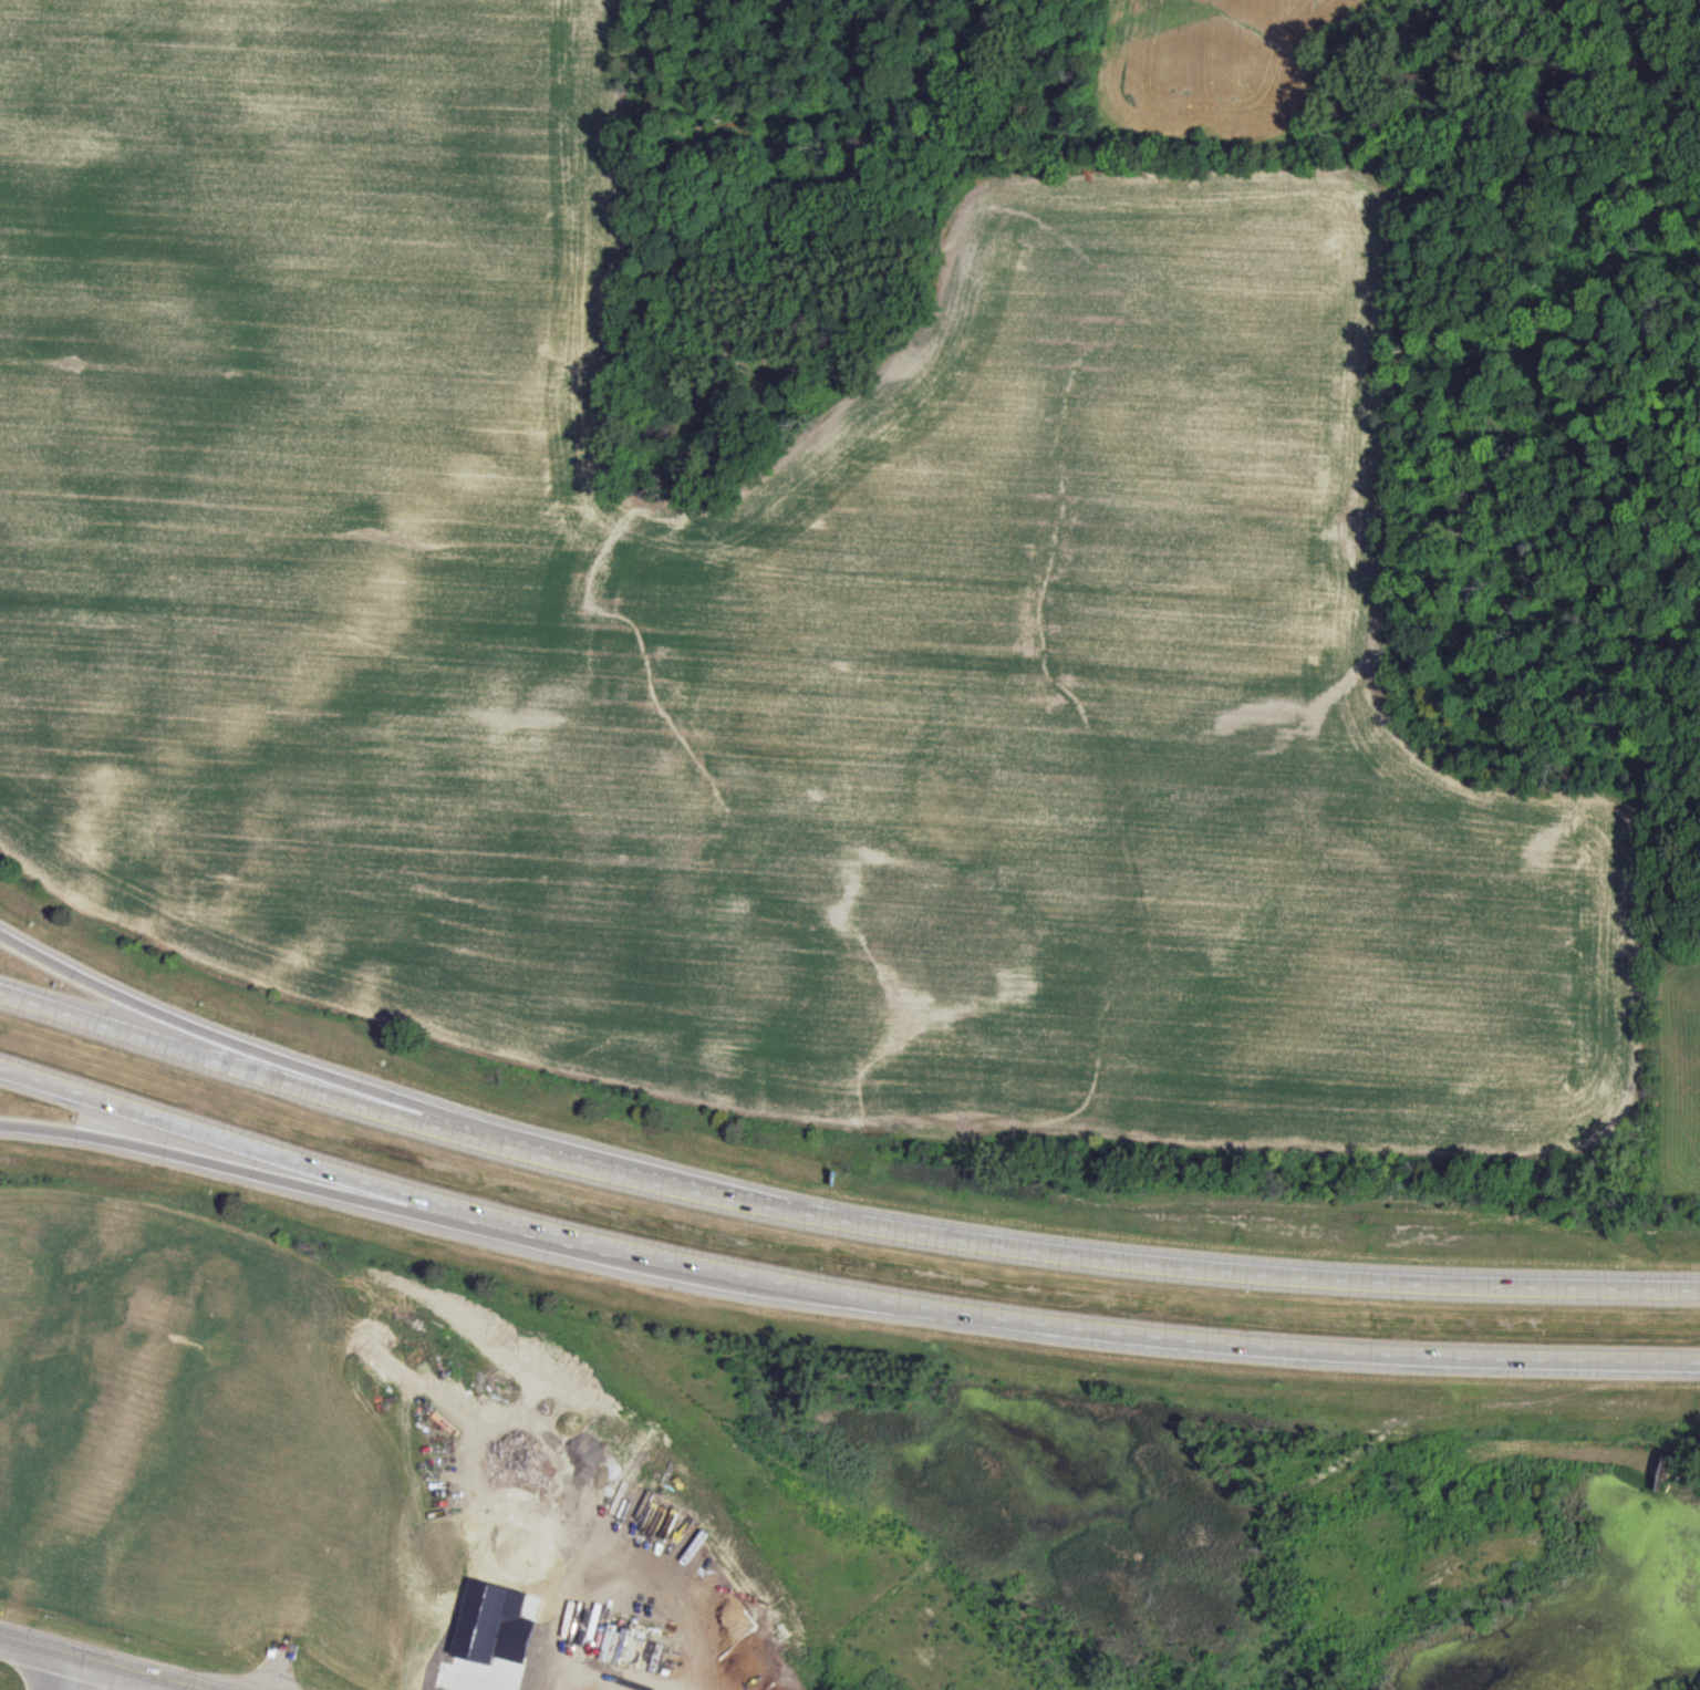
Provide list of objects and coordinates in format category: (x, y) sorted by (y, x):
crop: (888, 556)
road: (376, 1091)
road: (376, 1202)
road: (836, 1219)
road: (837, 1292)
road: (97, 1663)
road: (56, 1672)
road: (141, 1682)

